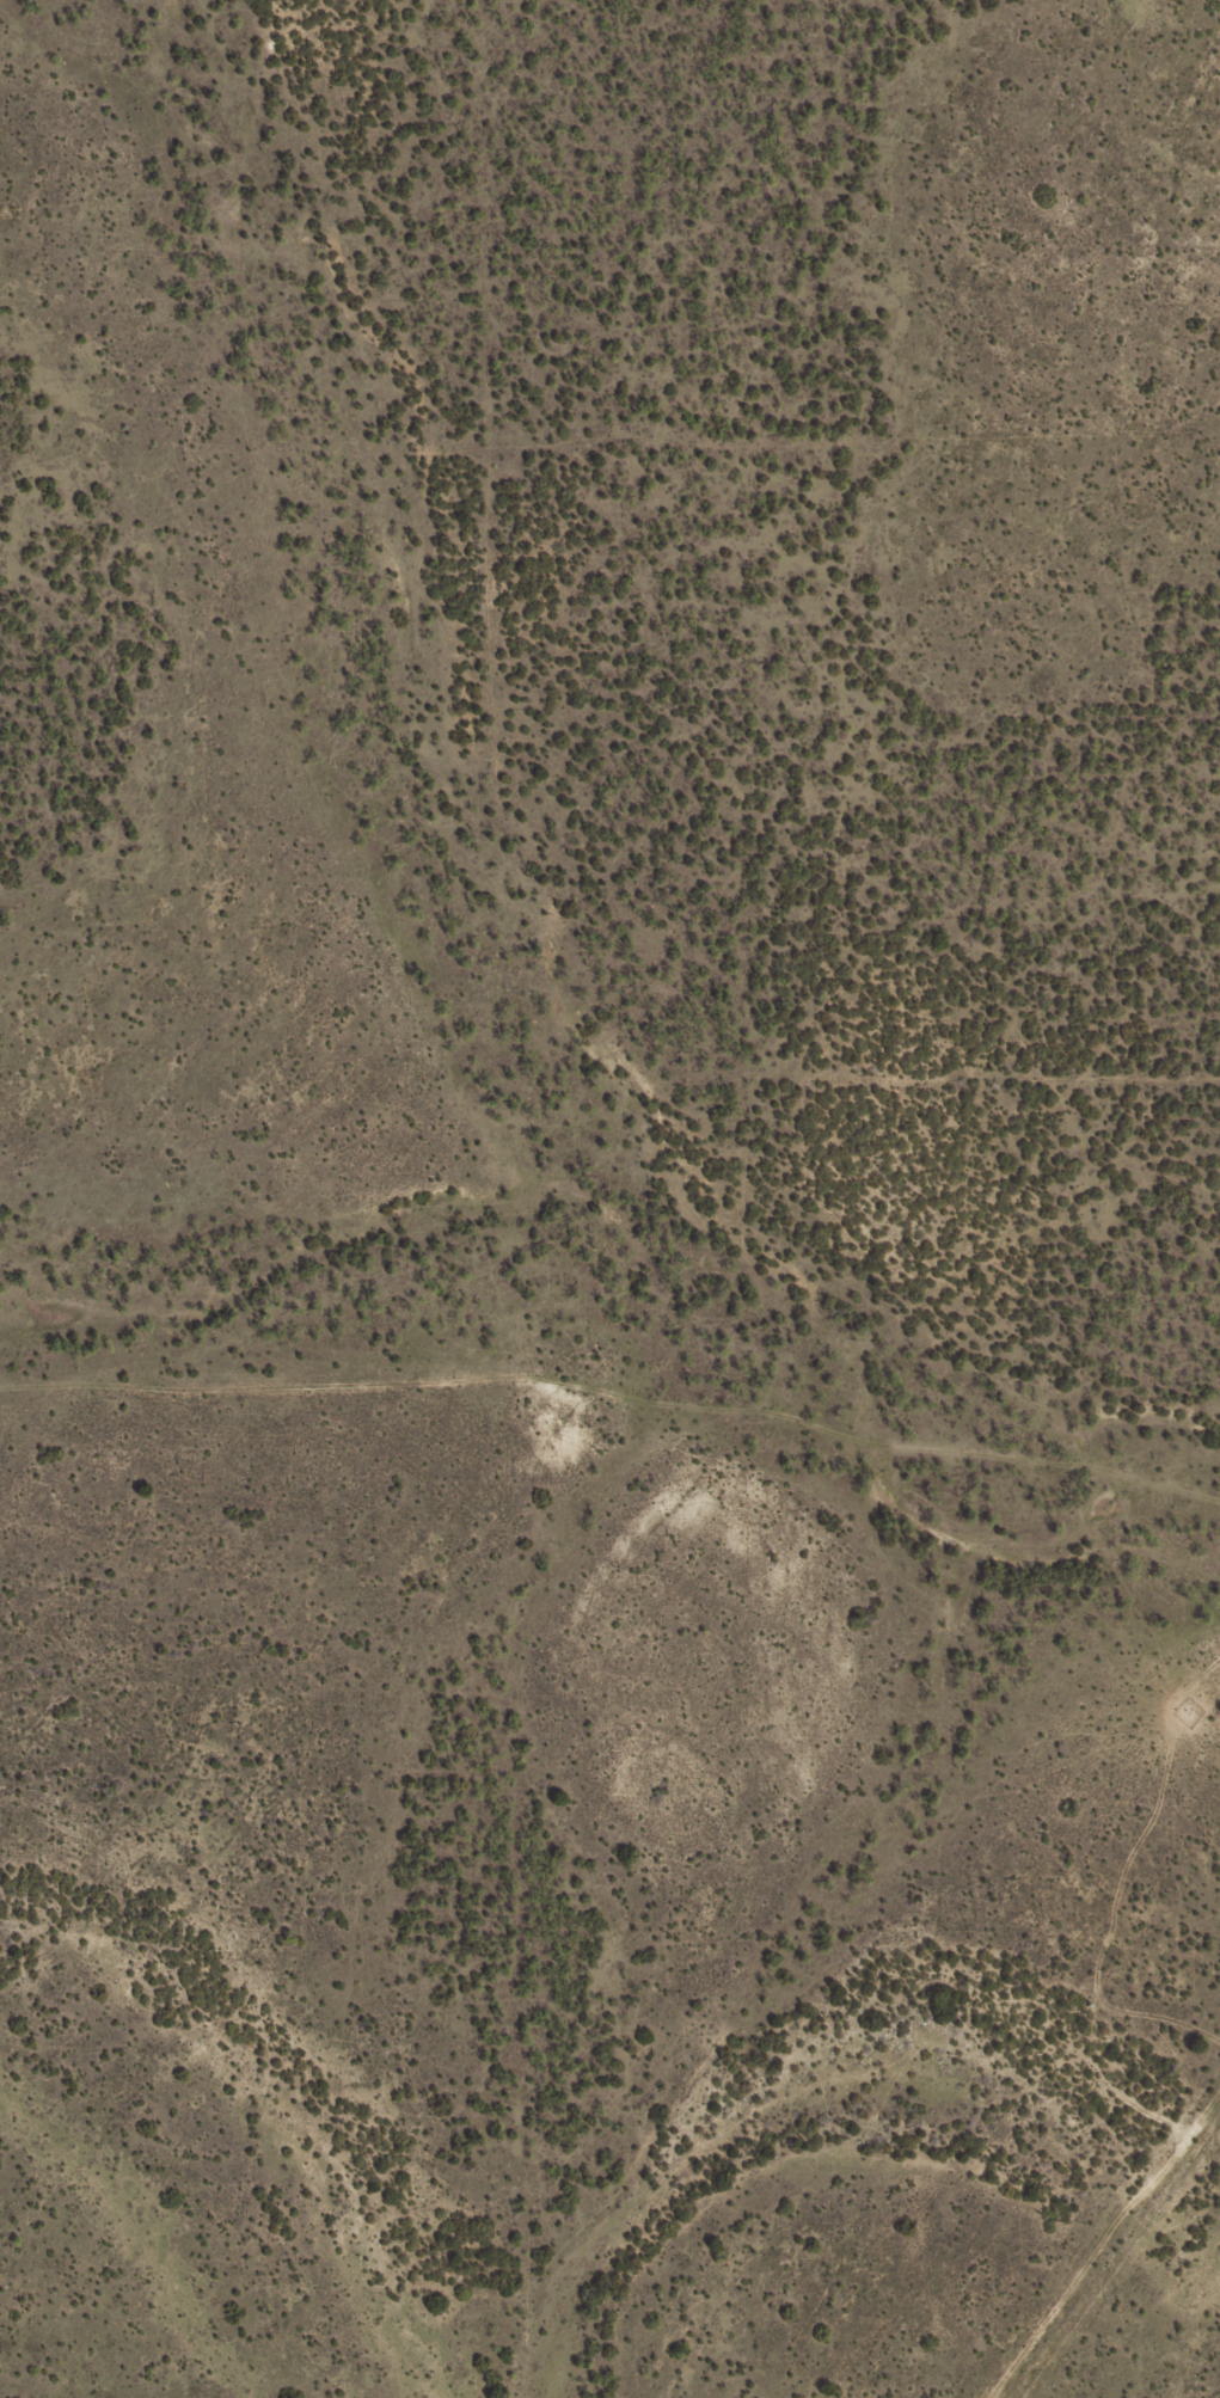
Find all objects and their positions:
road: (612, 1453)
road: (1209, 2378)

